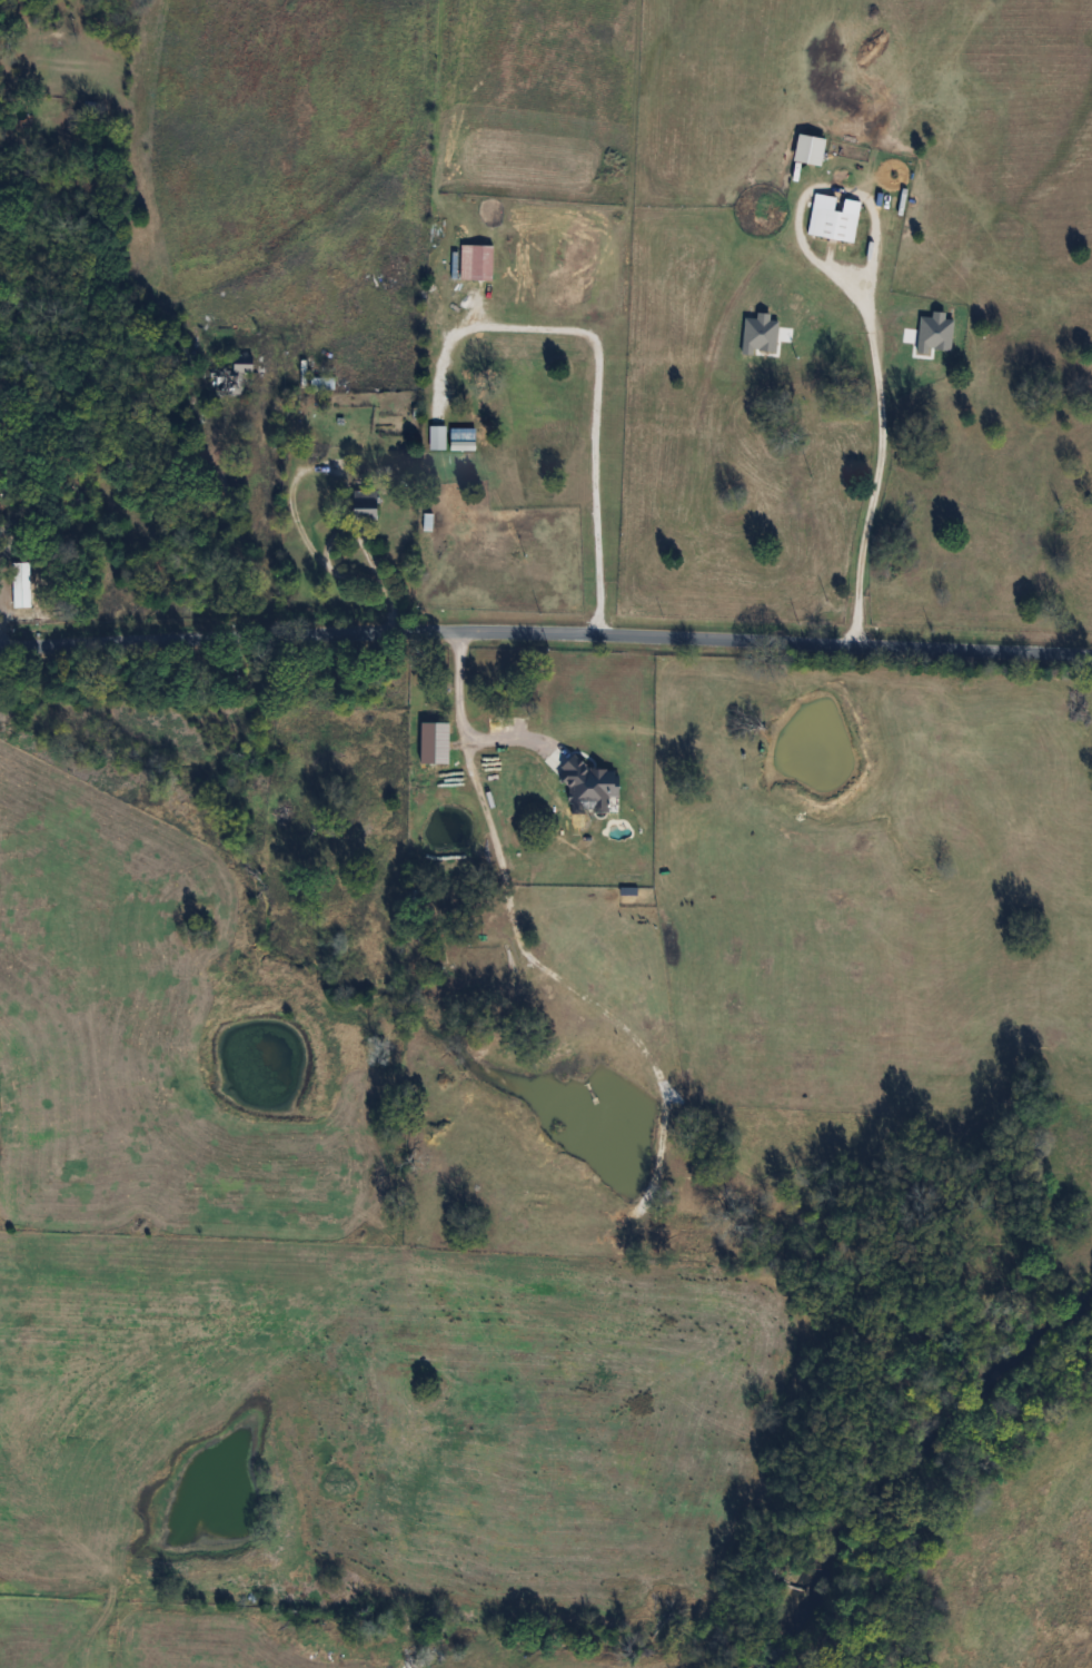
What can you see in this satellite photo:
building: (836, 224)
building: (231, 376)
building: (322, 383)
road: (600, 383)
road: (883, 464)
building: (368, 502)
building: (21, 585)
road: (546, 634)
road: (461, 717)
building: (512, 732)
building: (578, 828)

